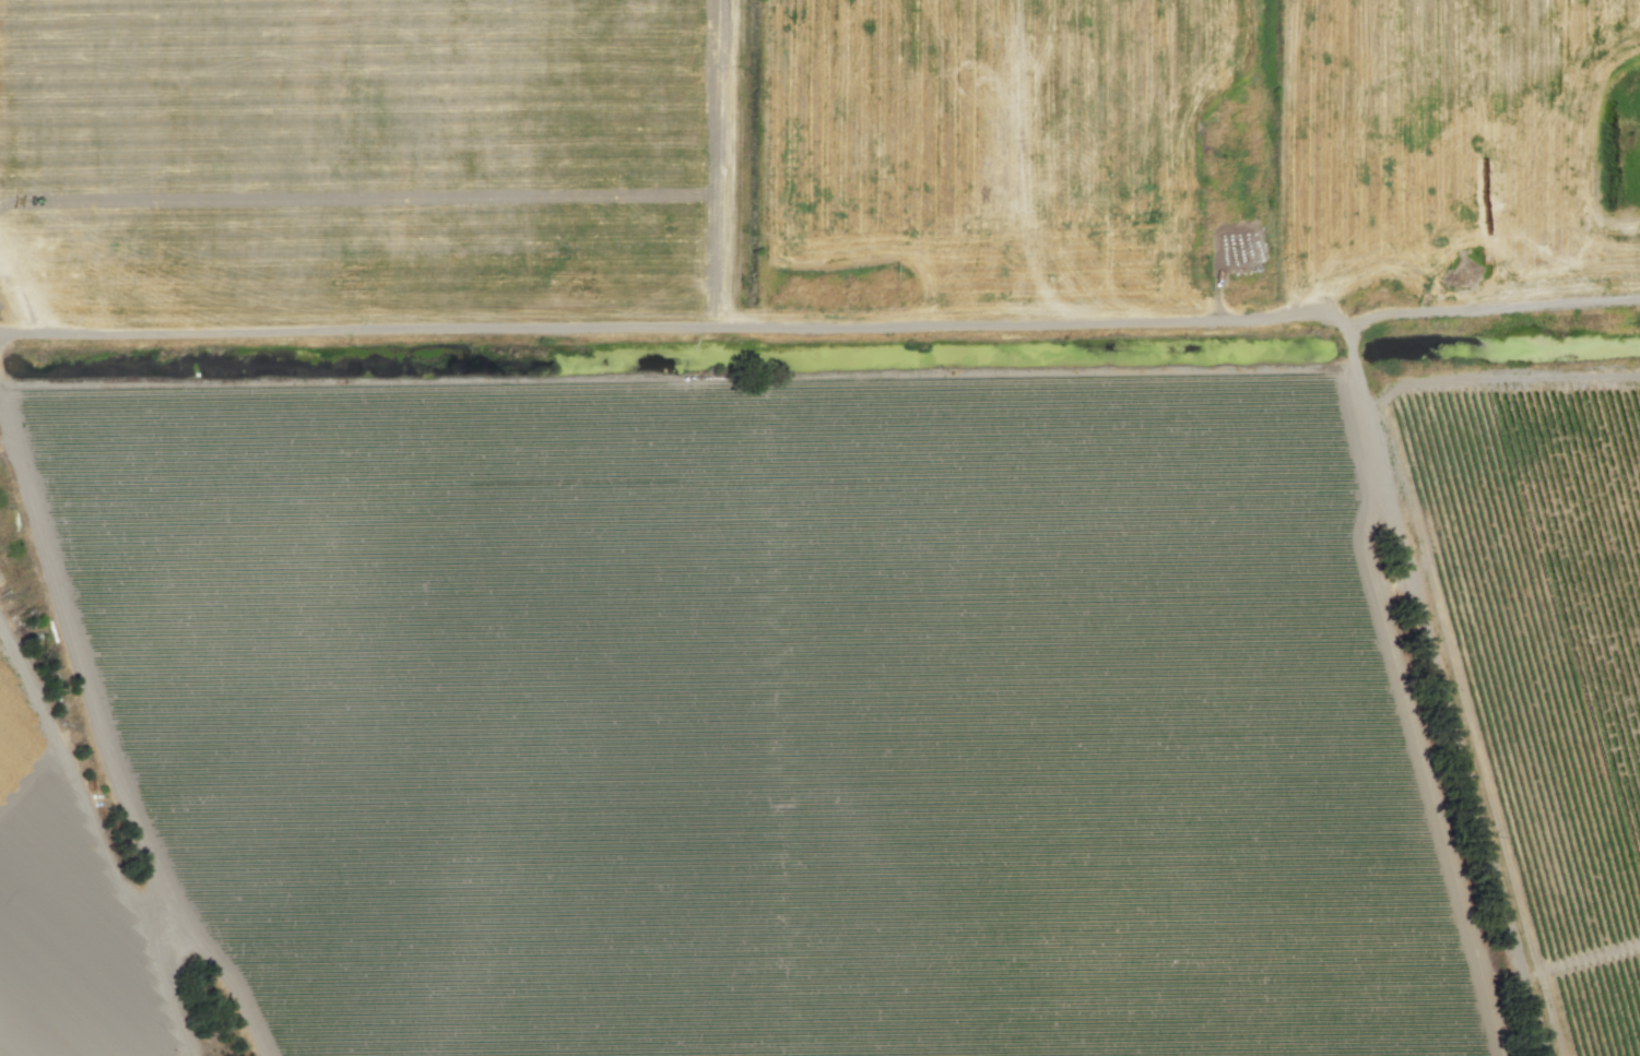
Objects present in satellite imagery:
road: (1442, 691)

